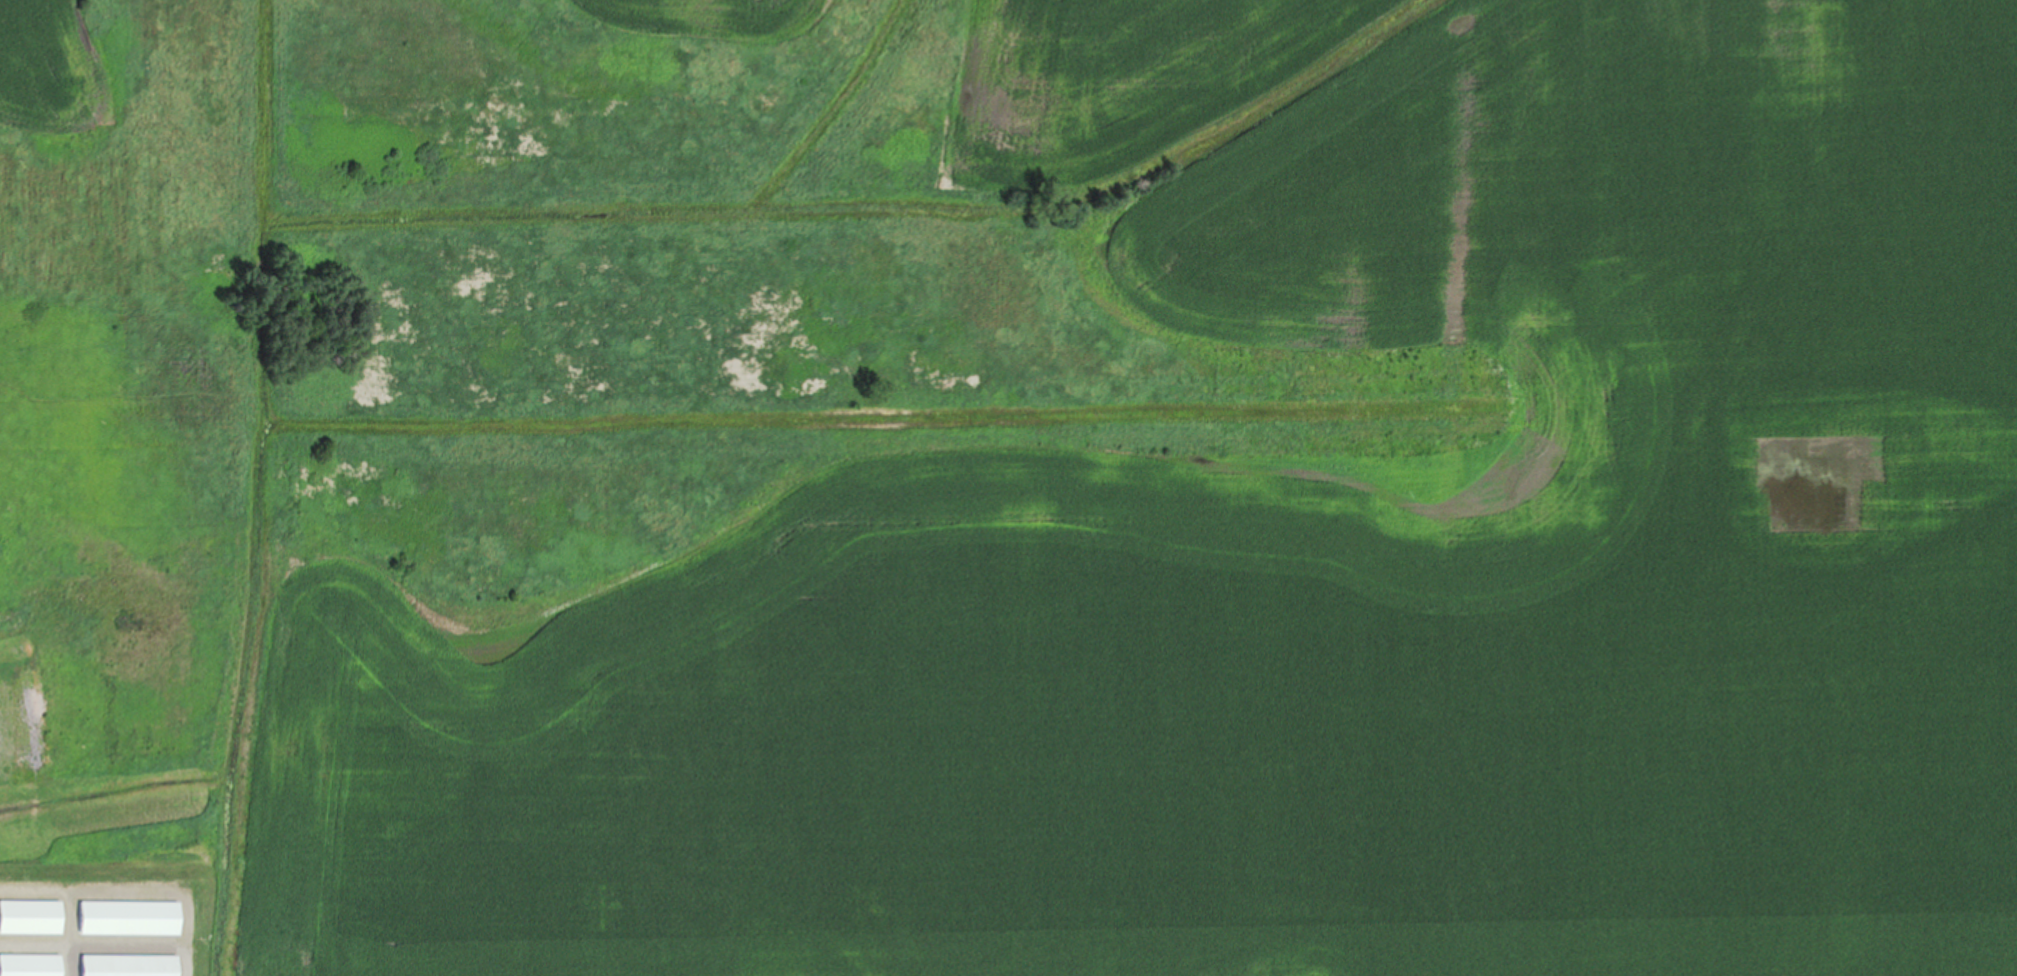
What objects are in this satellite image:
building: (130, 965)

